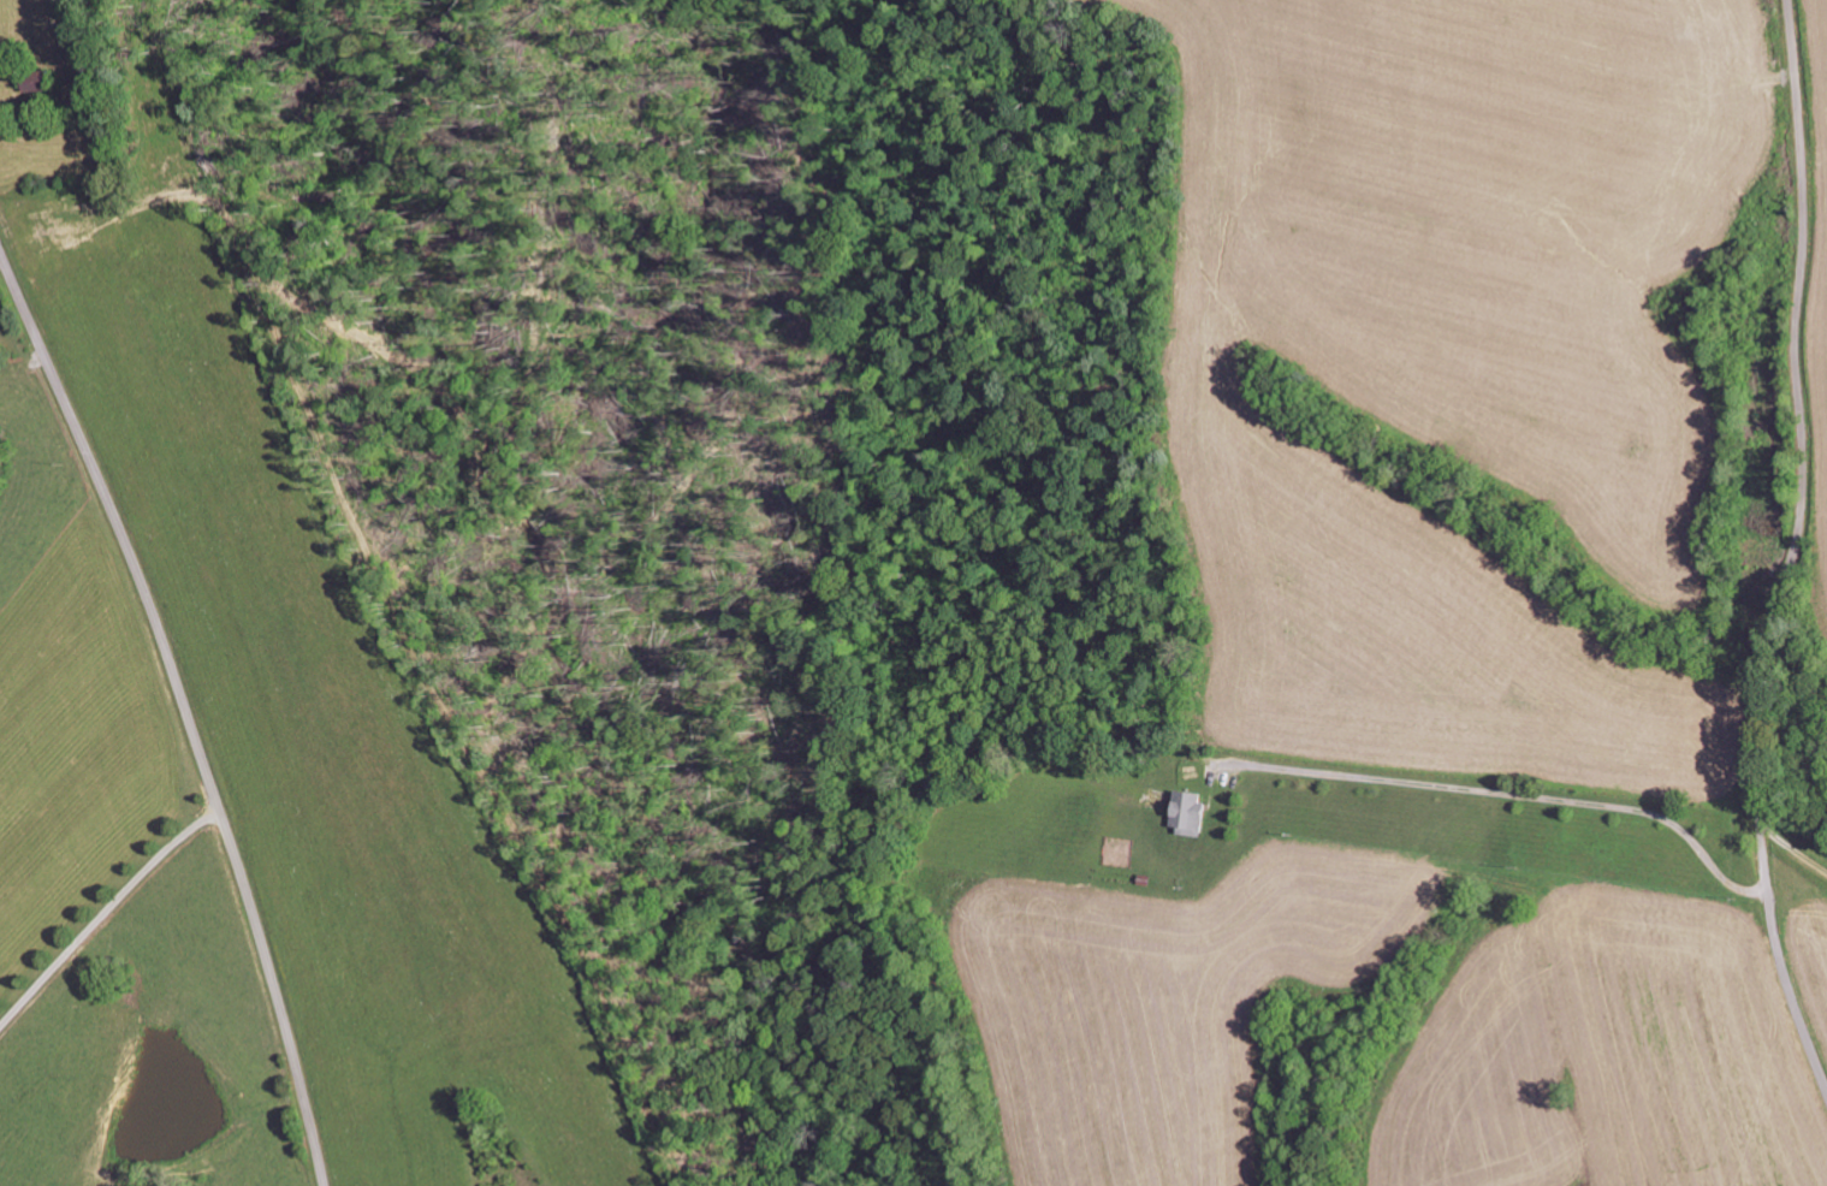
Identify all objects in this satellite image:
road: (1789, 553)
road: (182, 713)
building: (1185, 811)

